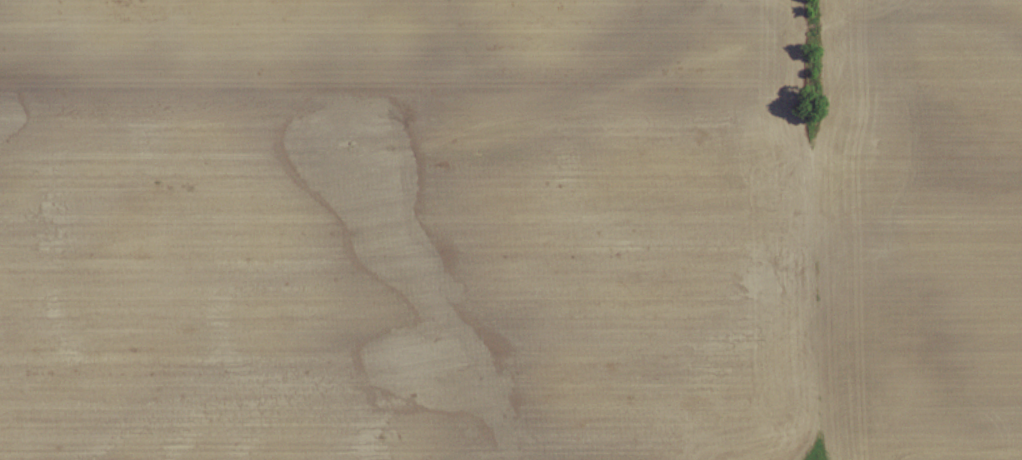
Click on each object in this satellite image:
crop: (400, 229)
crop: (915, 238)

